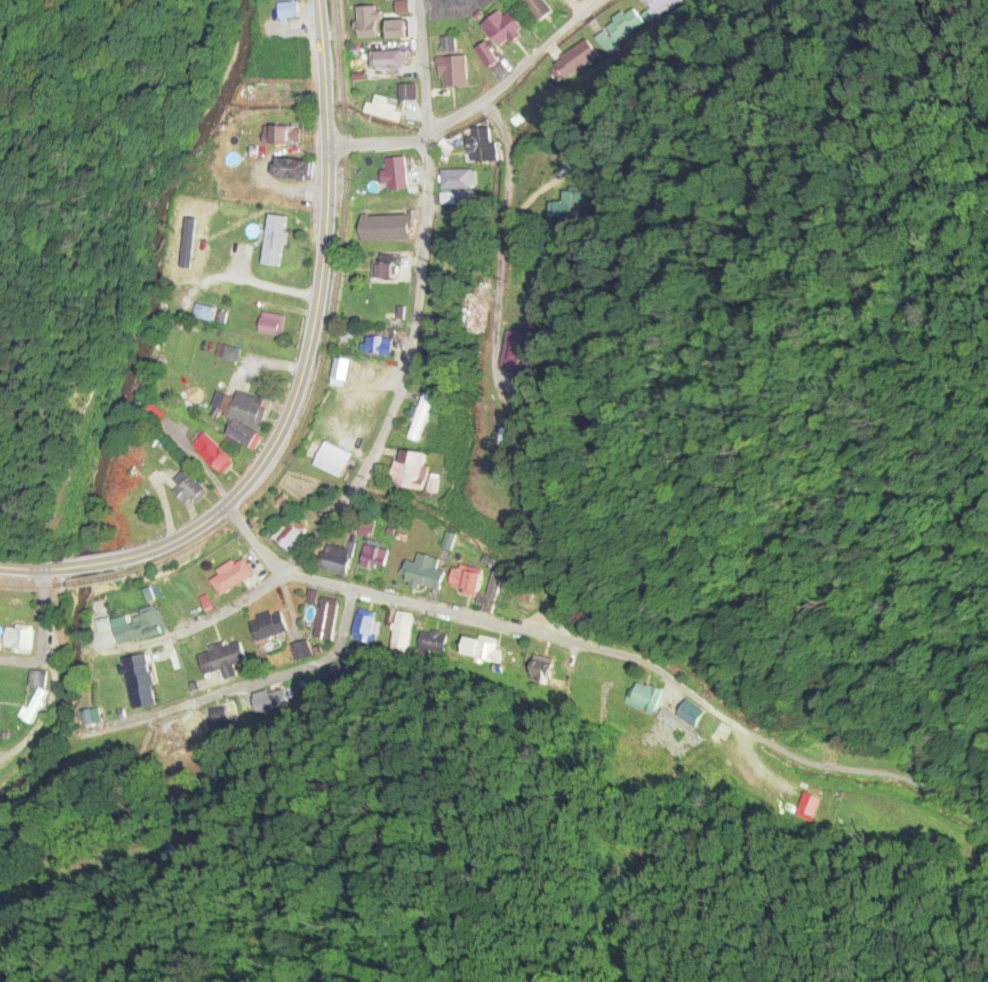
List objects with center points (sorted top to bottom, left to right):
road: (575, 7)
road: (421, 70)
road: (477, 105)
road: (840, 122)
road: (296, 383)
railway: (311, 394)
road: (365, 472)
road: (252, 542)
road: (513, 619)
road: (41, 636)
road: (279, 655)
road: (669, 704)

